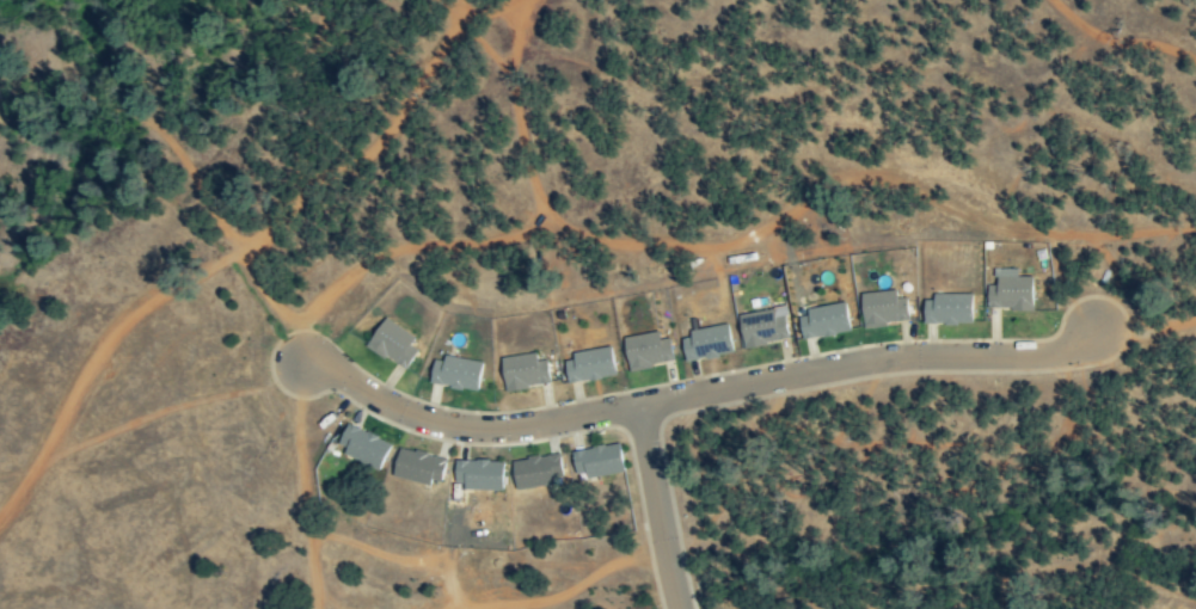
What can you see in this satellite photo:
building: (1008, 291)
building: (882, 309)
building: (946, 310)
building: (822, 322)
building: (761, 330)
building: (391, 344)
building: (705, 344)
building: (645, 350)
road: (867, 362)
building: (588, 367)
building: (522, 373)
building: (454, 374)
road: (460, 425)
building: (361, 447)
building: (595, 462)
building: (416, 468)
building: (534, 472)
building: (477, 475)
road: (654, 507)

